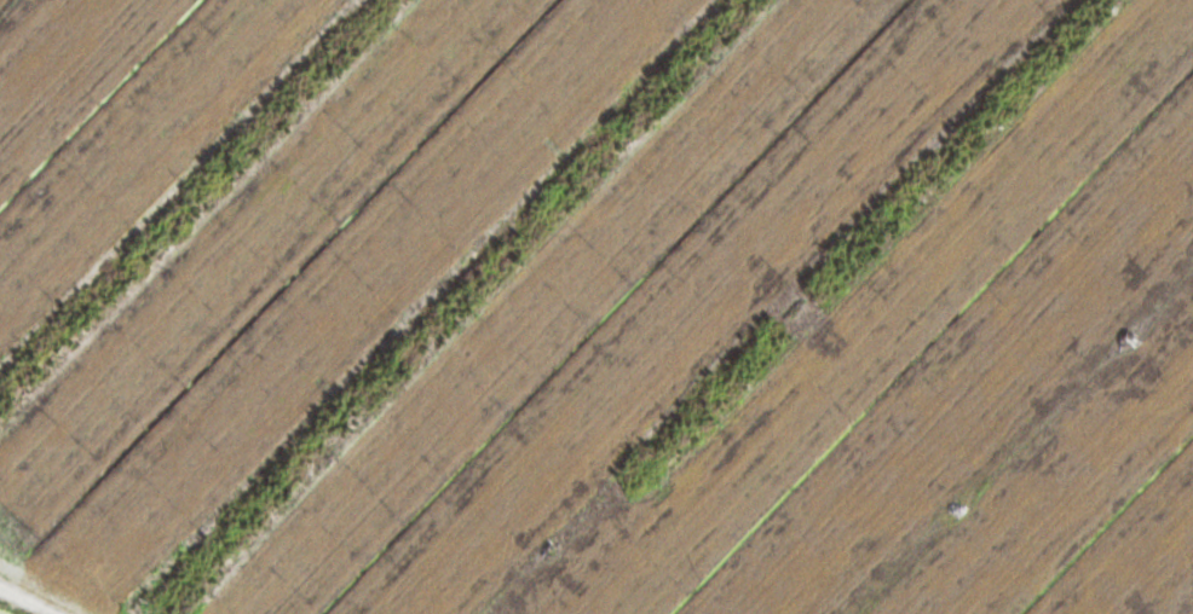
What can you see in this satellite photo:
road: (67, 580)

